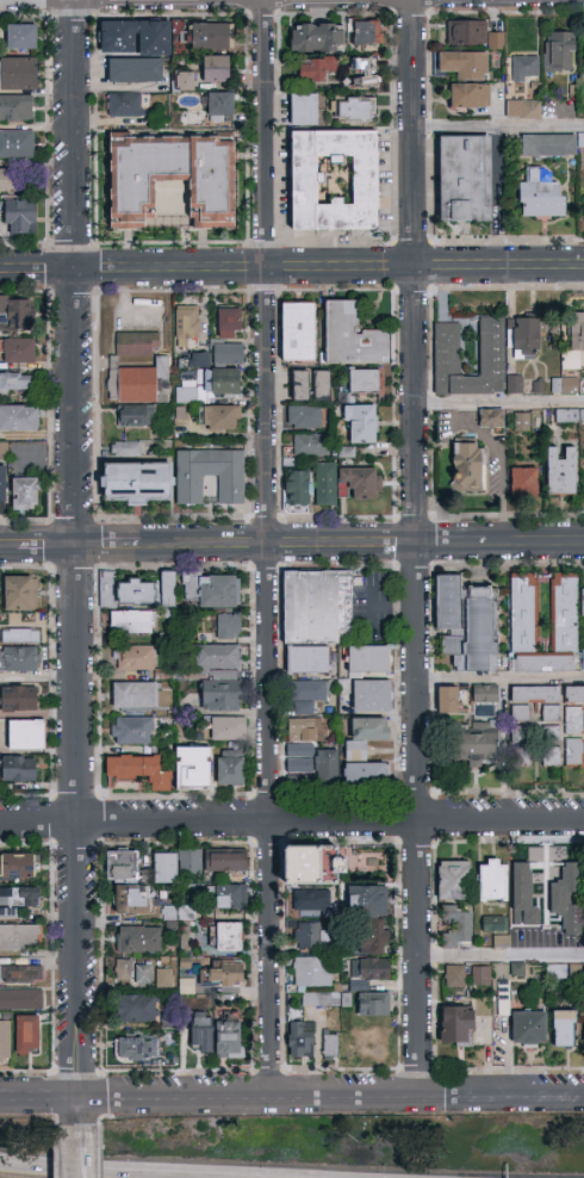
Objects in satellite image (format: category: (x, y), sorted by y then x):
building: (366, 33)
building: (472, 35)
building: (21, 36)
building: (212, 36)
building: (316, 37)
building: (136, 38)
building: (580, 48)
building: (559, 51)
building: (462, 64)
building: (216, 69)
building: (313, 69)
building: (524, 69)
building: (135, 70)
building: (362, 73)
building: (18, 74)
building: (185, 81)
building: (468, 97)
building: (124, 105)
building: (219, 107)
building: (17, 108)
building: (304, 108)
building: (353, 110)
building: (523, 110)
road: (499, 126)
building: (578, 138)
building: (17, 144)
building: (549, 145)
building: (170, 178)
building: (7, 179)
building: (465, 179)
building: (334, 180)
building: (540, 196)
building: (20, 216)
road: (291, 269)
building: (17, 314)
building: (230, 323)
building: (187, 324)
building: (298, 331)
building: (352, 336)
building: (526, 337)
building: (574, 342)
building: (137, 345)
building: (448, 349)
building: (19, 351)
building: (228, 353)
building: (364, 382)
building: (15, 383)
building: (135, 383)
building: (223, 383)
building: (515, 384)
building: (300, 385)
building: (322, 385)
building: (565, 385)
building: (187, 396)
road: (501, 407)
building: (135, 416)
building: (570, 416)
building: (19, 417)
building: (220, 417)
building: (304, 417)
building: (491, 418)
building: (521, 422)
building: (361, 423)
road: (479, 430)
building: (310, 445)
building: (126, 449)
building: (468, 466)
building: (561, 471)
building: (361, 482)
building: (524, 482)
building: (583, 482)
building: (137, 483)
building: (325, 484)
building: (2, 489)
building: (190, 490)
building: (296, 491)
building: (25, 494)
road: (502, 496)
road: (526, 542)
road: (442, 544)
road: (247, 546)
road: (8, 547)
road: (46, 547)
road: (268, 547)
road: (417, 547)
road: (76, 548)
building: (107, 587)
building: (168, 589)
building: (211, 590)
building: (21, 593)
building: (137, 594)
building: (317, 606)
building: (132, 622)
building: (466, 624)
building: (229, 626)
building: (522, 633)
building: (20, 635)
building: (217, 657)
building: (133, 658)
building: (19, 659)
building: (307, 659)
building: (368, 659)
building: (219, 672)
road: (501, 678)
building: (484, 694)
building: (133, 695)
building: (307, 695)
building: (573, 695)
building: (371, 696)
building: (222, 697)
building: (19, 699)
building: (447, 700)
building: (535, 702)
building: (573, 720)
building: (225, 728)
building: (132, 731)
building: (305, 731)
building: (26, 734)
building: (551, 734)
building: (476, 748)
building: (365, 751)
building: (574, 752)
building: (521, 756)
building: (551, 757)
building: (311, 765)
building: (193, 768)
building: (19, 769)
building: (139, 770)
building: (230, 770)
road: (292, 821)
building: (280, 860)
building: (225, 861)
building: (191, 862)
building: (367, 863)
building: (311, 866)
building: (17, 867)
building: (122, 867)
building: (166, 868)
building: (453, 880)
building: (492, 880)
building: (523, 895)
building: (230, 897)
building: (567, 898)
building: (19, 899)
building: (132, 900)
building: (368, 900)
building: (310, 901)
building: (175, 911)
building: (493, 923)
building: (455, 928)
building: (310, 935)
building: (229, 936)
building: (18, 937)
building: (373, 938)
building: (139, 940)
building: (499, 941)
road: (501, 959)
building: (371, 969)
building: (517, 969)
building: (123, 971)
building: (19, 972)
building: (312, 972)
building: (555, 972)
building: (144, 974)
building: (223, 974)
building: (480, 975)
building: (455, 976)
building: (164, 979)
building: (182, 982)
building: (316, 999)
building: (503, 999)
building: (19, 1000)
building: (373, 1004)
building: (137, 1007)
building: (458, 1027)
building: (529, 1028)
building: (564, 1028)
building: (580, 1028)
building: (201, 1033)
building: (27, 1035)
building: (229, 1040)
building: (299, 1040)
building: (5, 1041)
building: (330, 1048)
building: (138, 1049)
road: (333, 1097)
road: (41, 1098)
road: (82, 1111)
road: (82, 1151)
road: (112, 1170)

